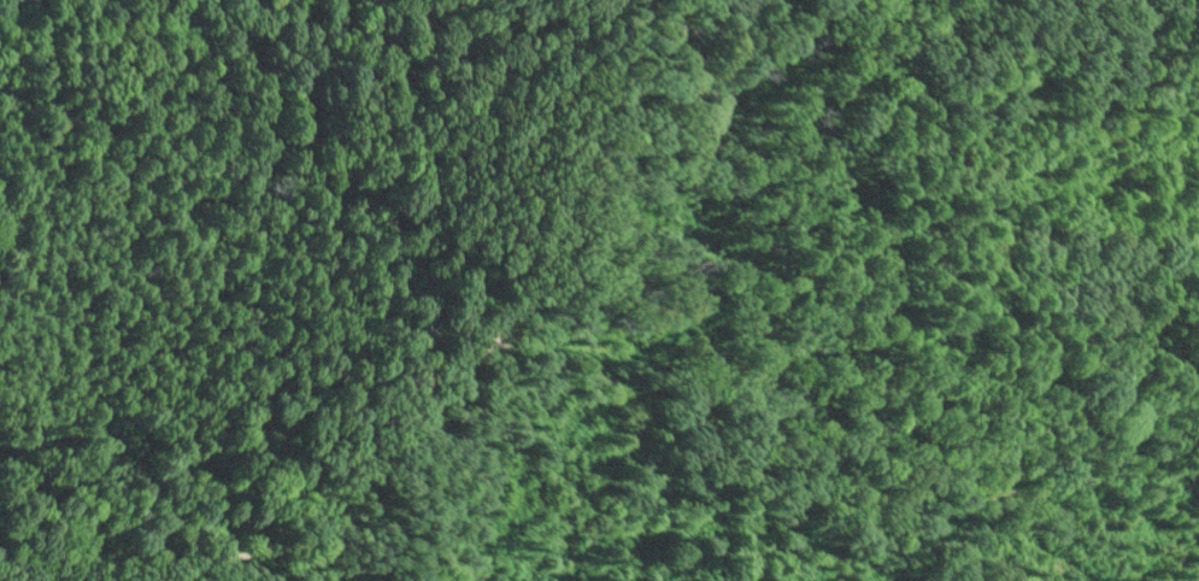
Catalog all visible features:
road: (1189, 230)
road: (474, 357)

